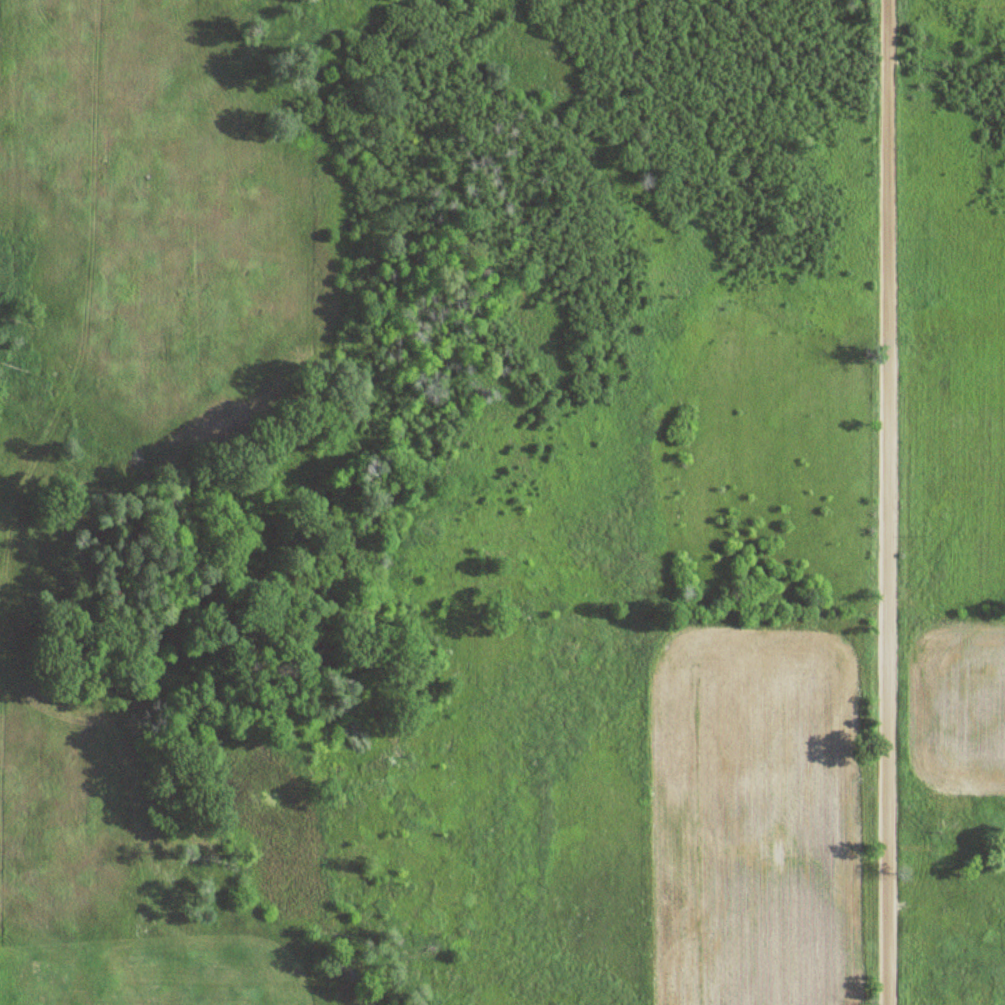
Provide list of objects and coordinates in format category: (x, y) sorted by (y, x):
road: (908, 502)

